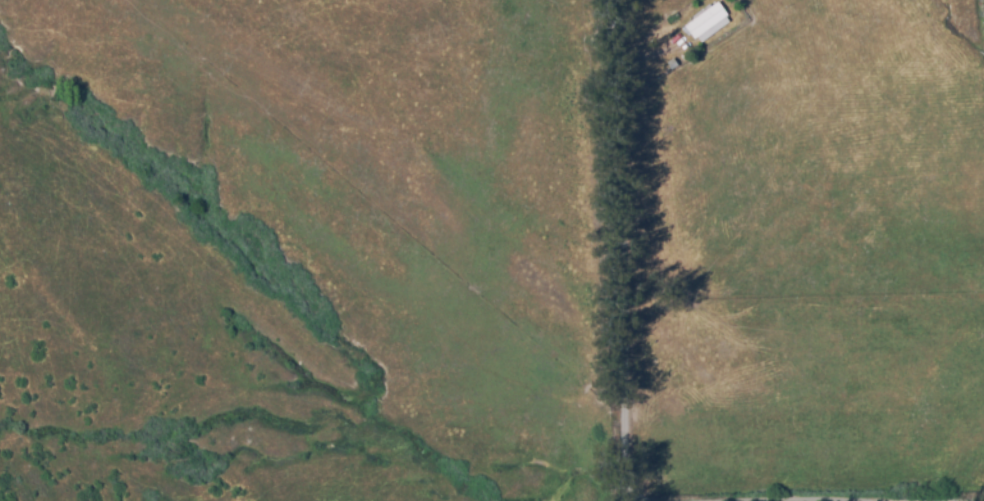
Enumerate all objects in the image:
building: (714, 19)
building: (674, 61)
road: (626, 250)
road: (807, 498)

